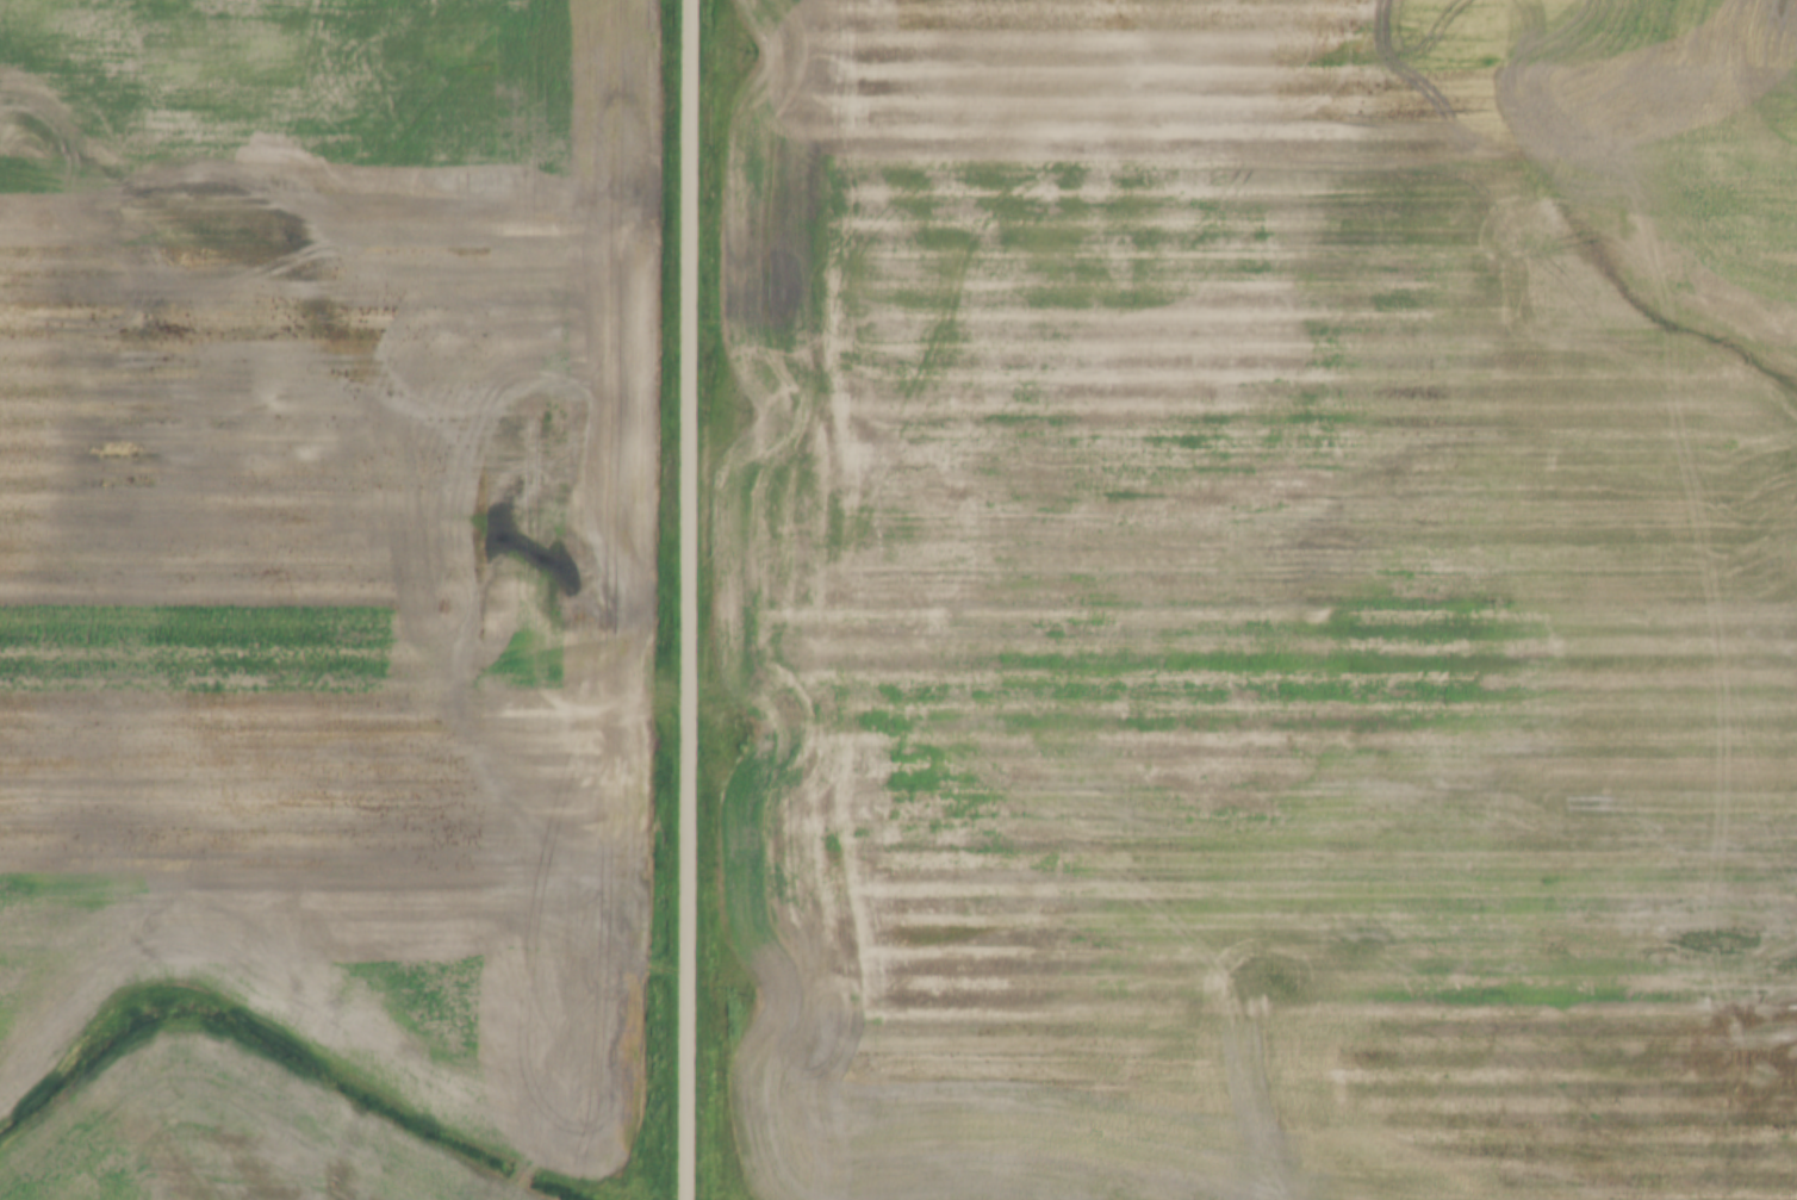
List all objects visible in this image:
road: (691, 599)

